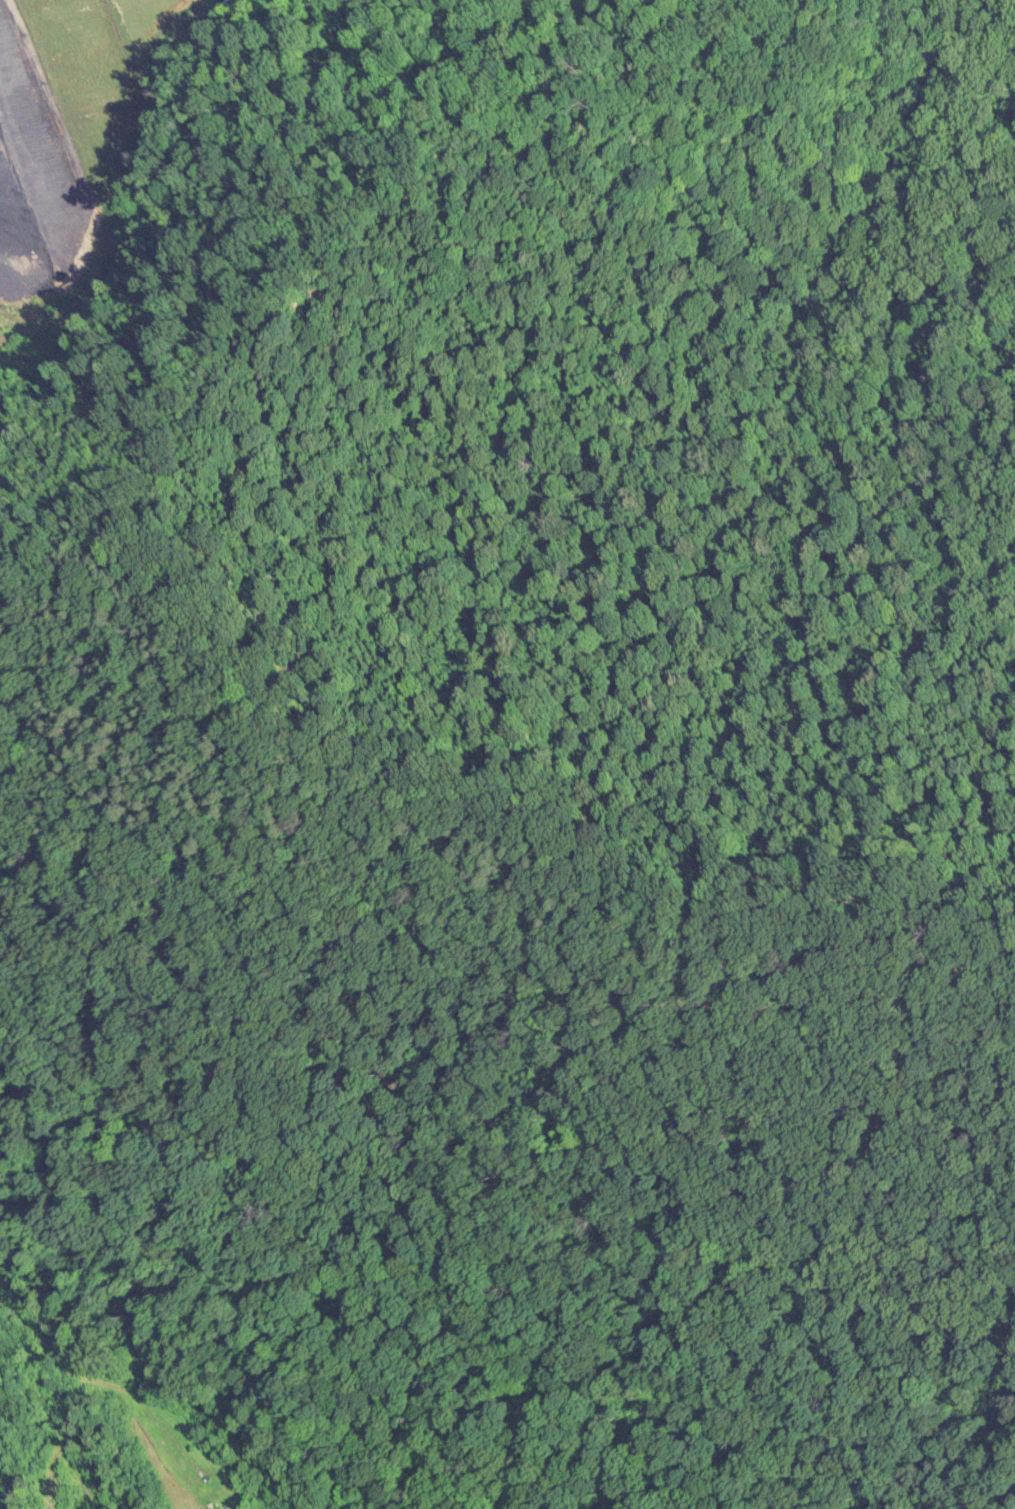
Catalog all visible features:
quarry: (64, 130)

